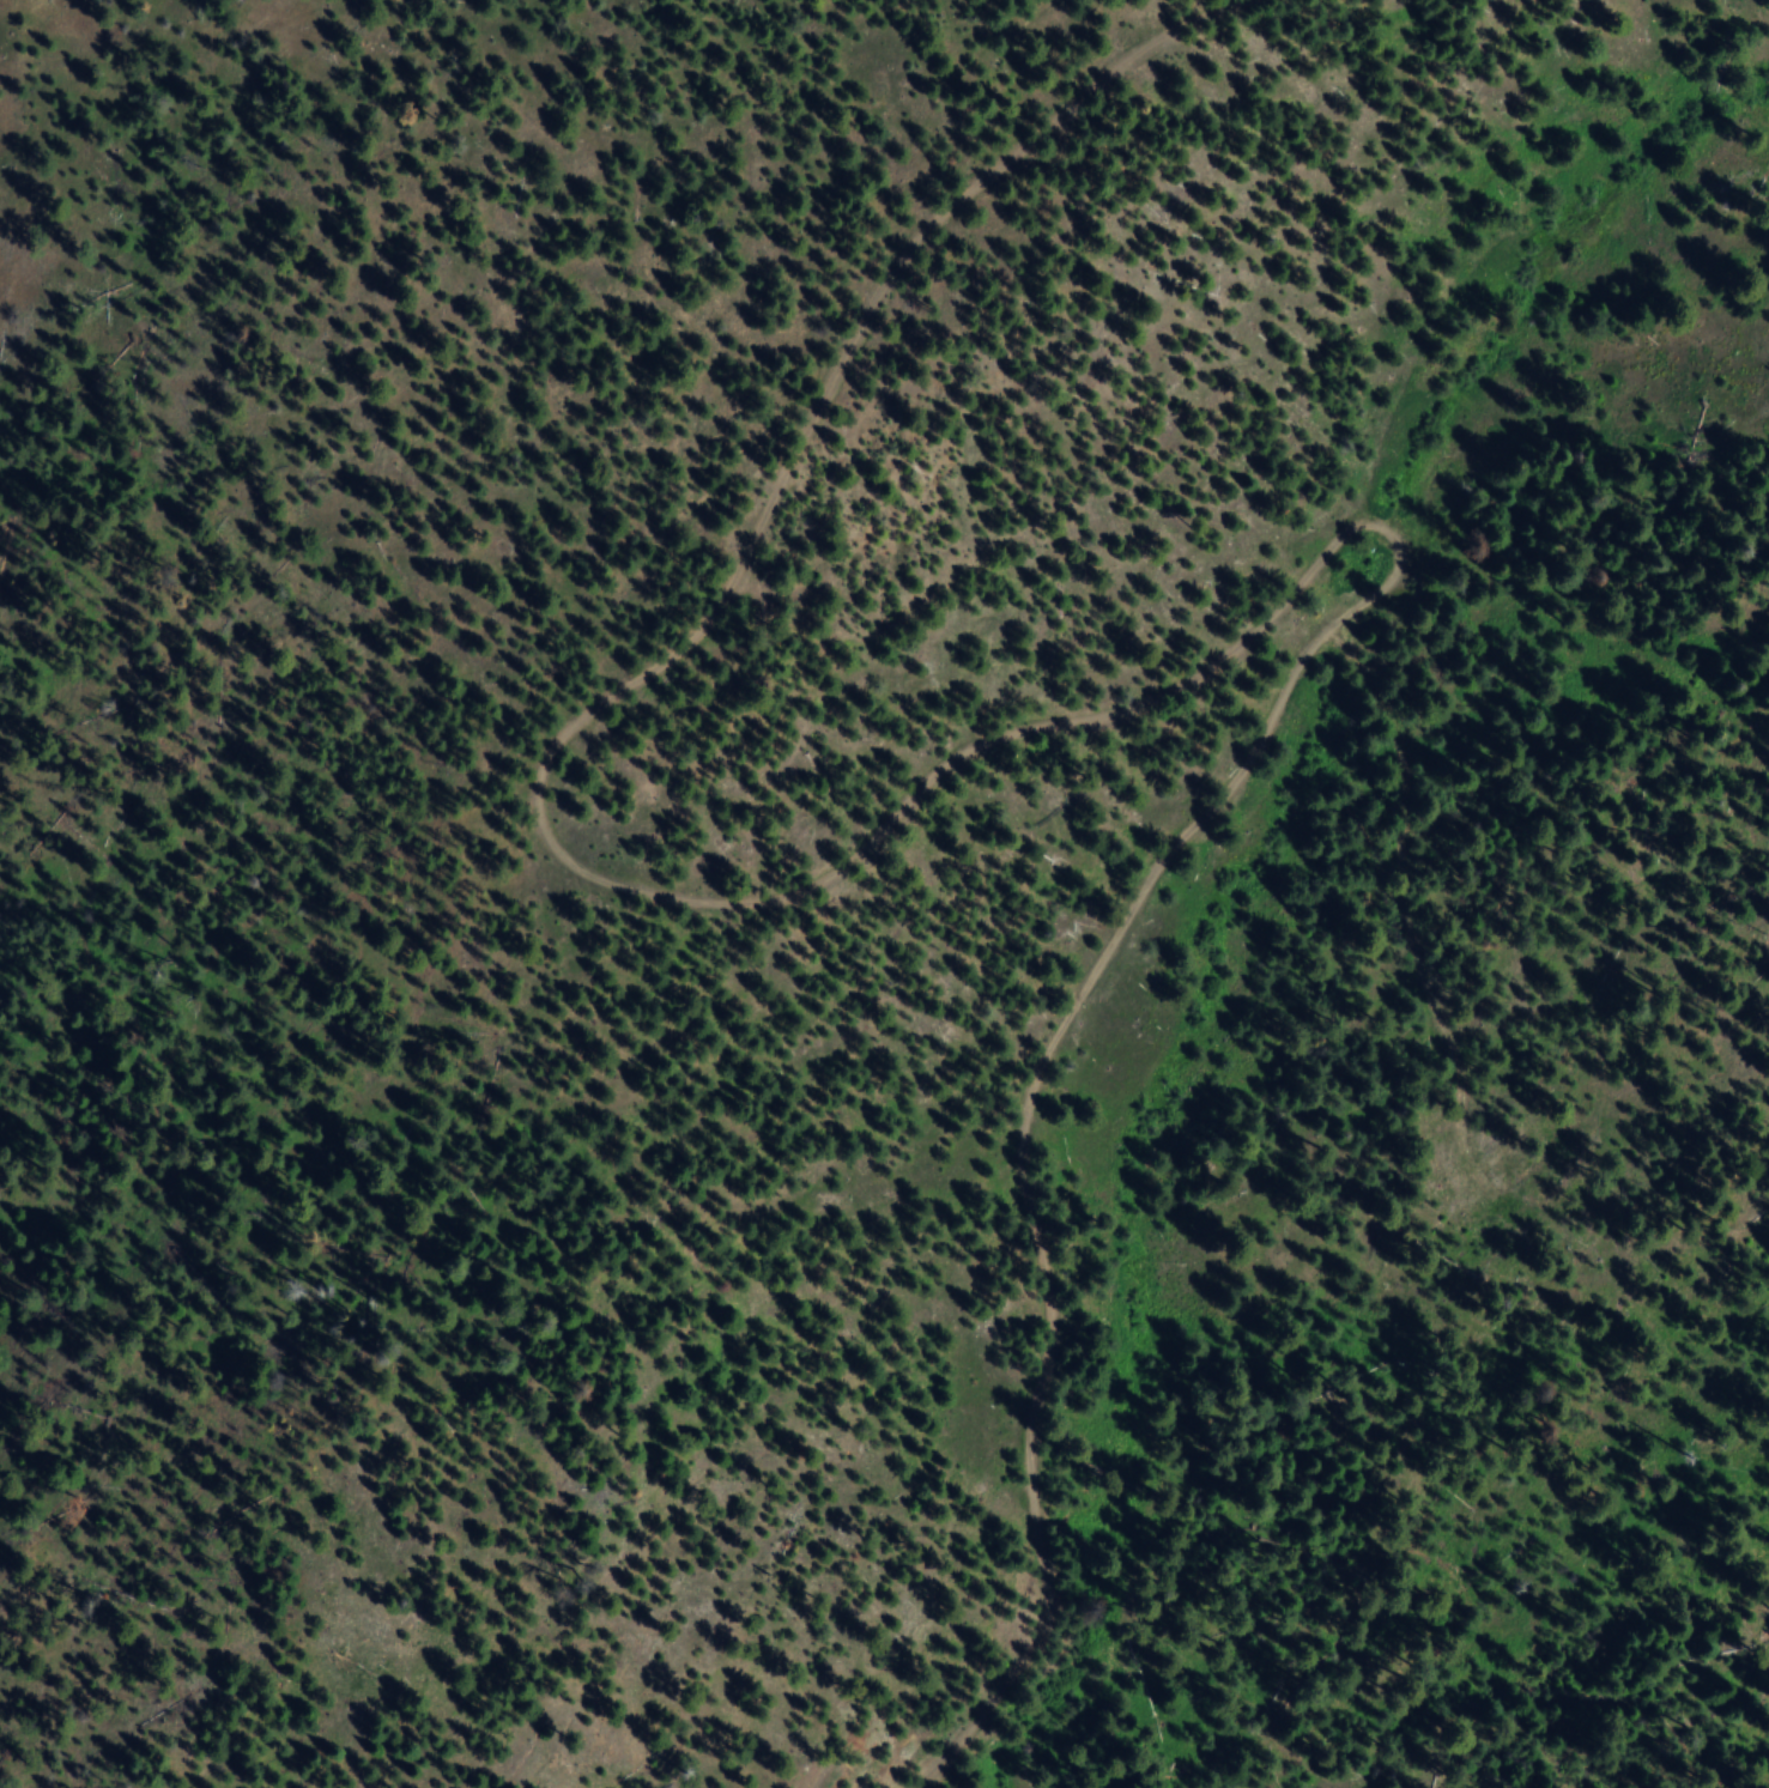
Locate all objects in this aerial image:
road: (861, 891)
road: (1052, 1479)

